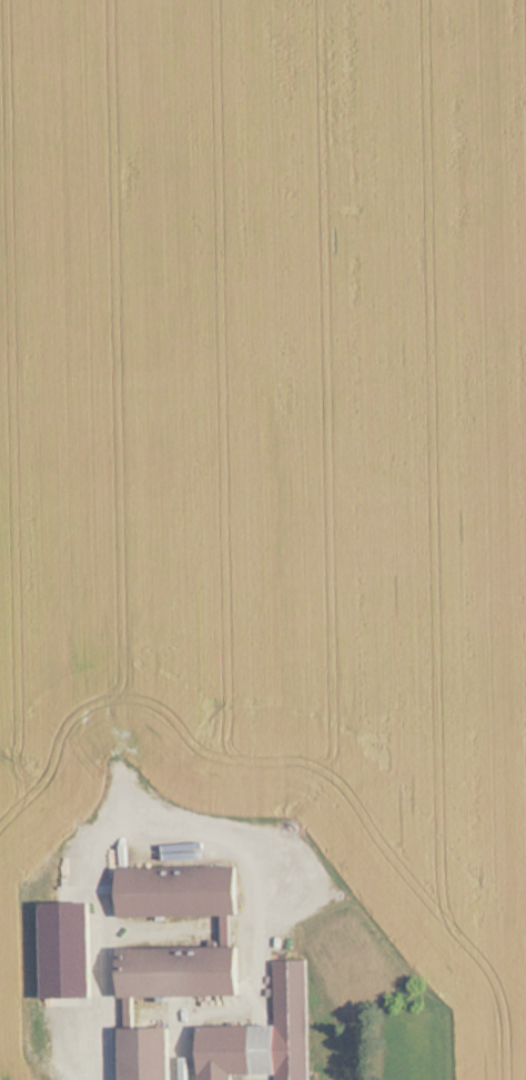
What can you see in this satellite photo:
building: (181, 888)
building: (181, 969)
building: (265, 1033)
building: (146, 1052)

